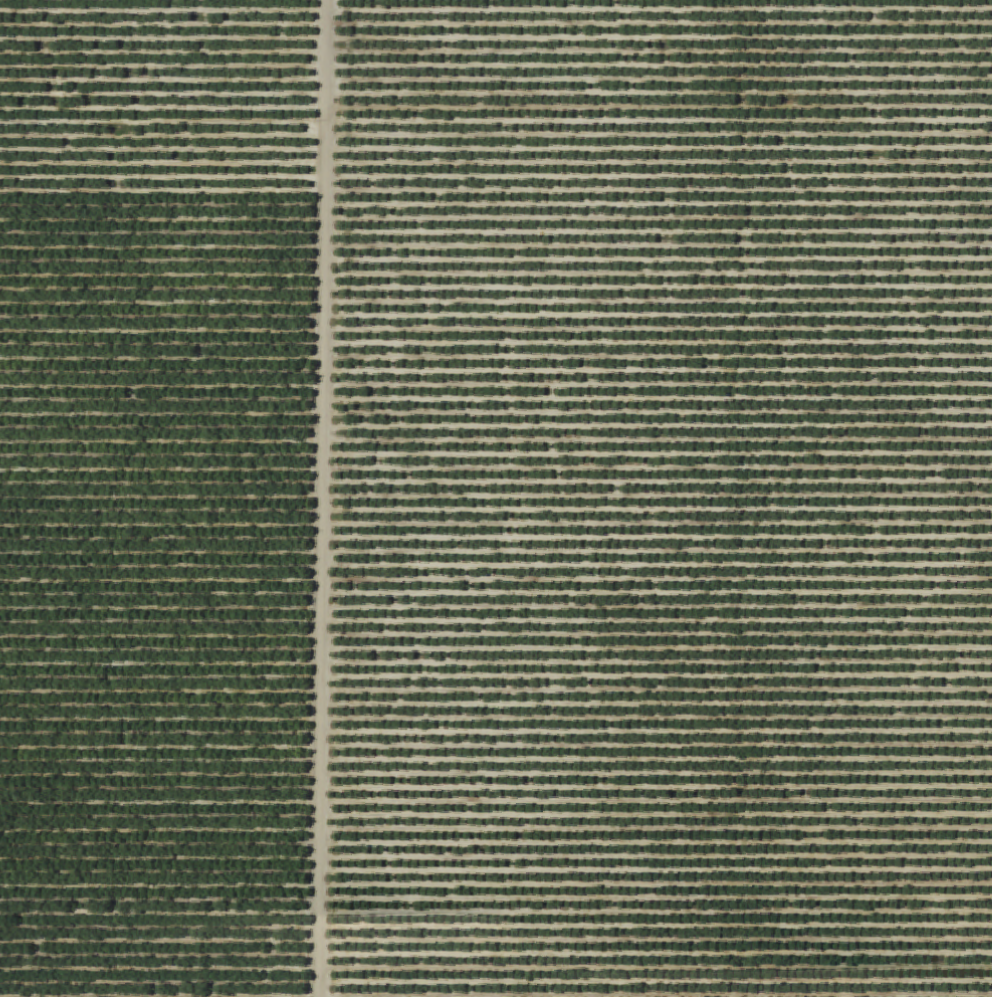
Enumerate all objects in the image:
road: (322, 498)

